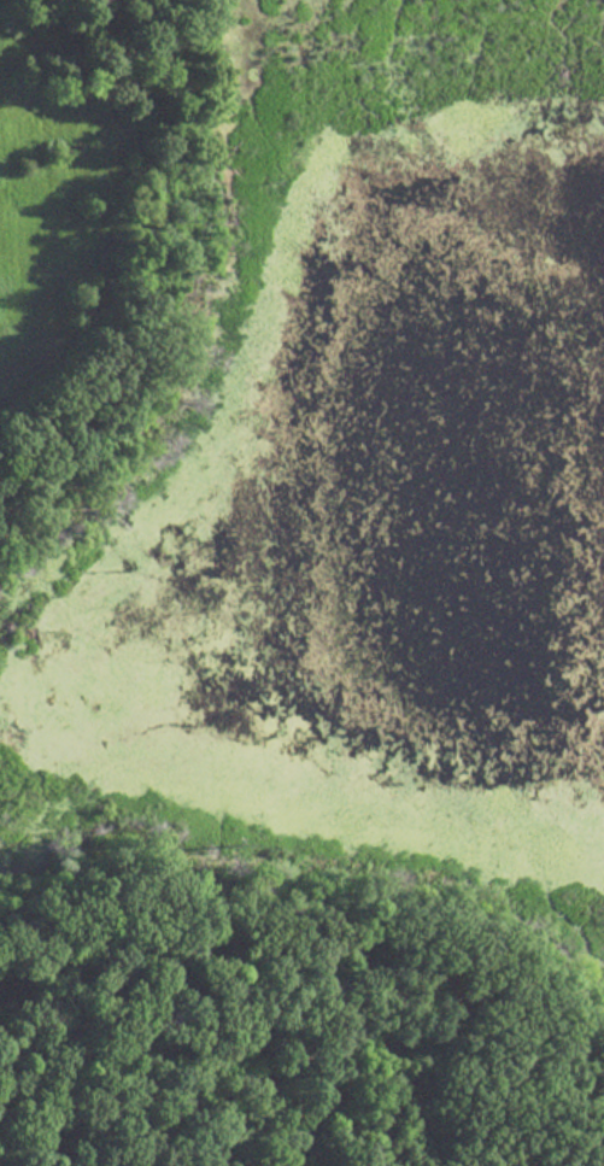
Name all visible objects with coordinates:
park: (301, 582)

